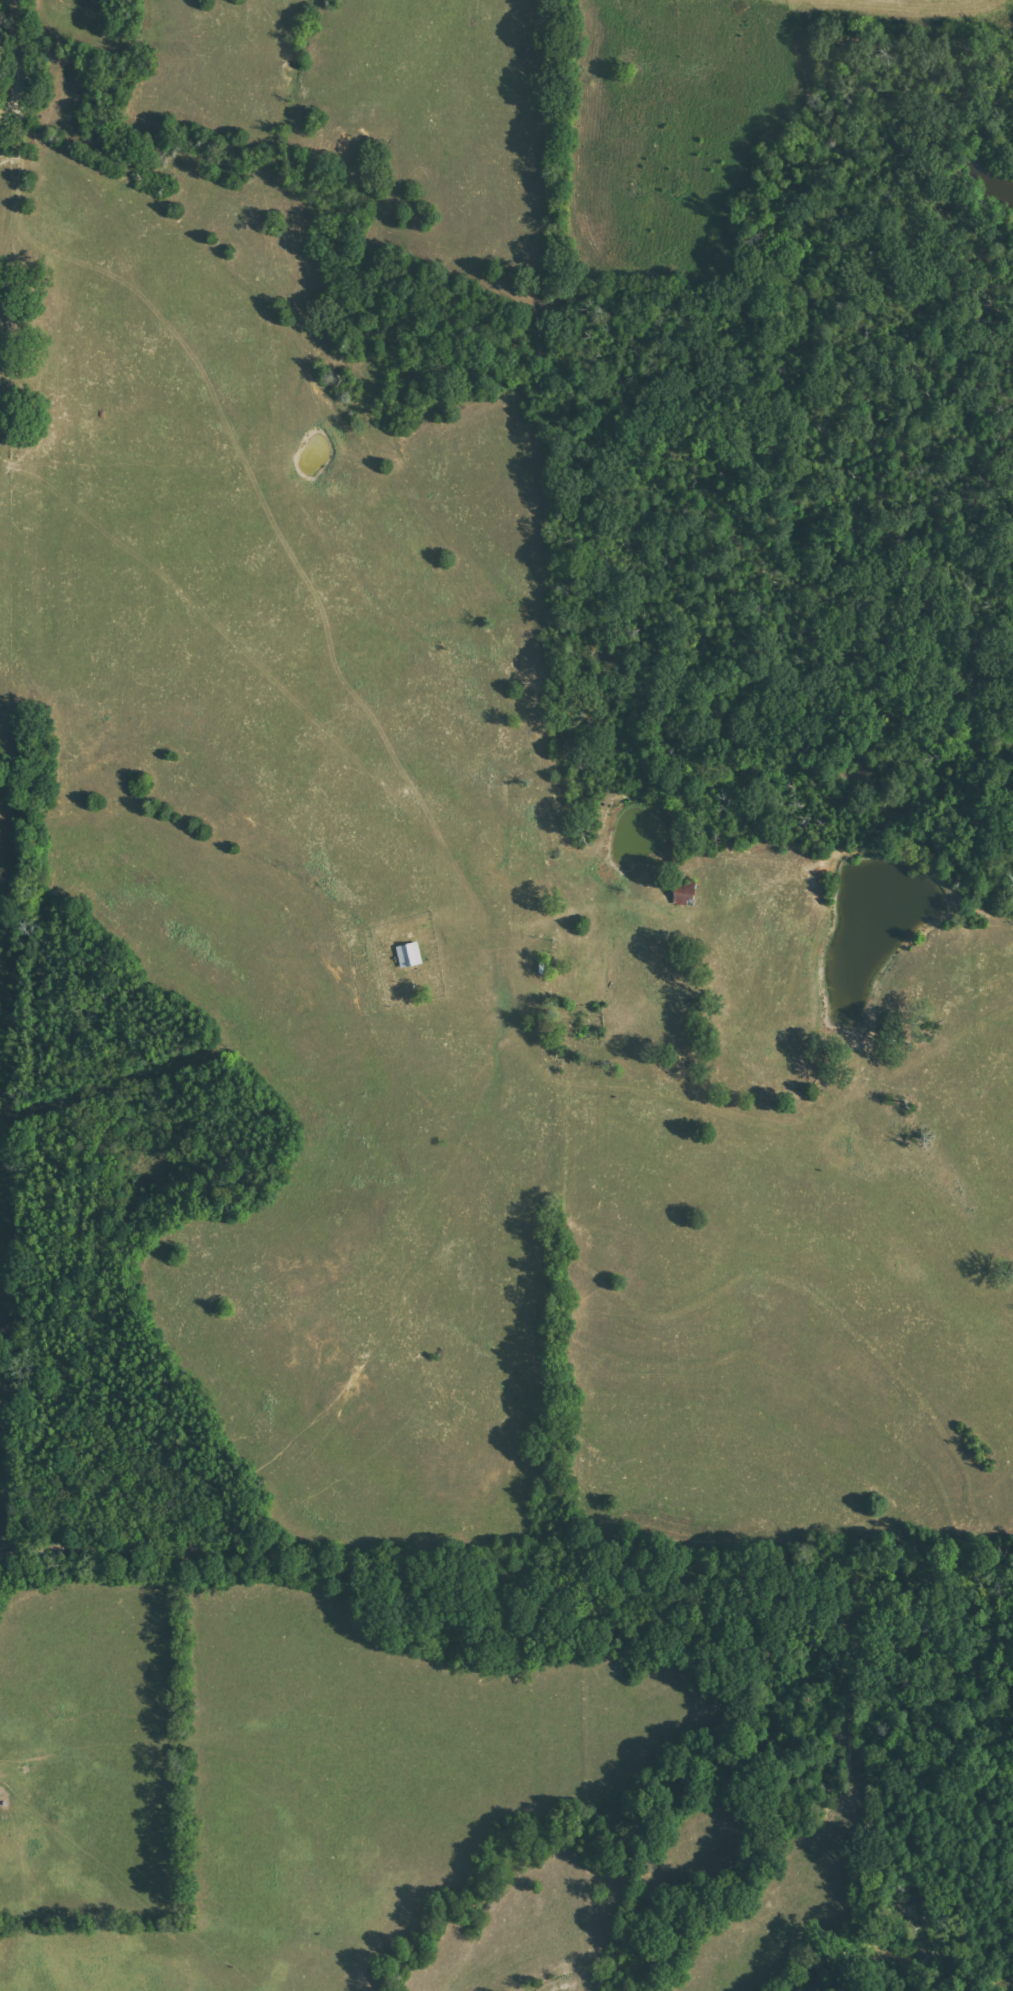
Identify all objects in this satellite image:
road: (22, 61)
building: (685, 895)
building: (409, 954)

